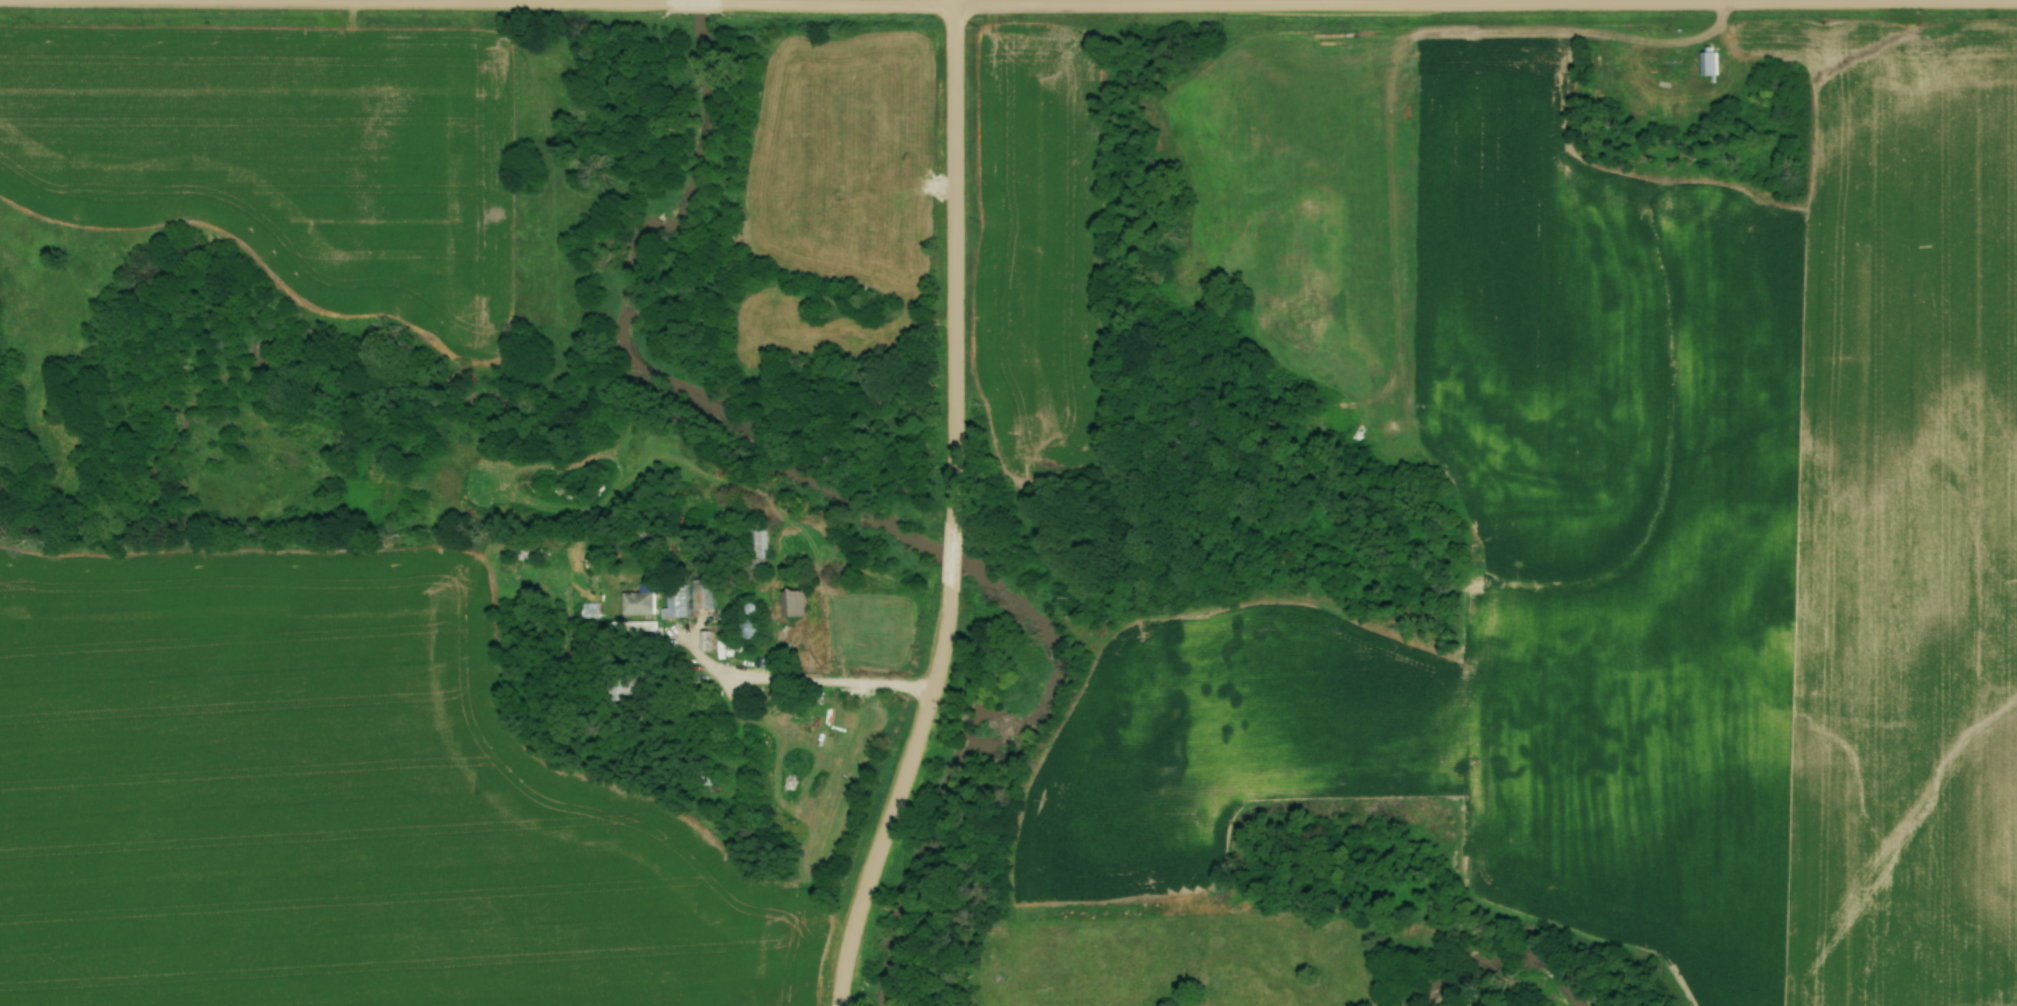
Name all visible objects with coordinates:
road: (333, 5)
road: (696, 6)
road: (1371, 6)
building: (1709, 62)
road: (954, 259)
road: (954, 556)
building: (698, 601)
building: (640, 603)
building: (793, 604)
building: (633, 627)
building: (752, 630)
building: (705, 641)
road: (834, 683)
building: (622, 688)
building: (711, 778)
road: (896, 799)

